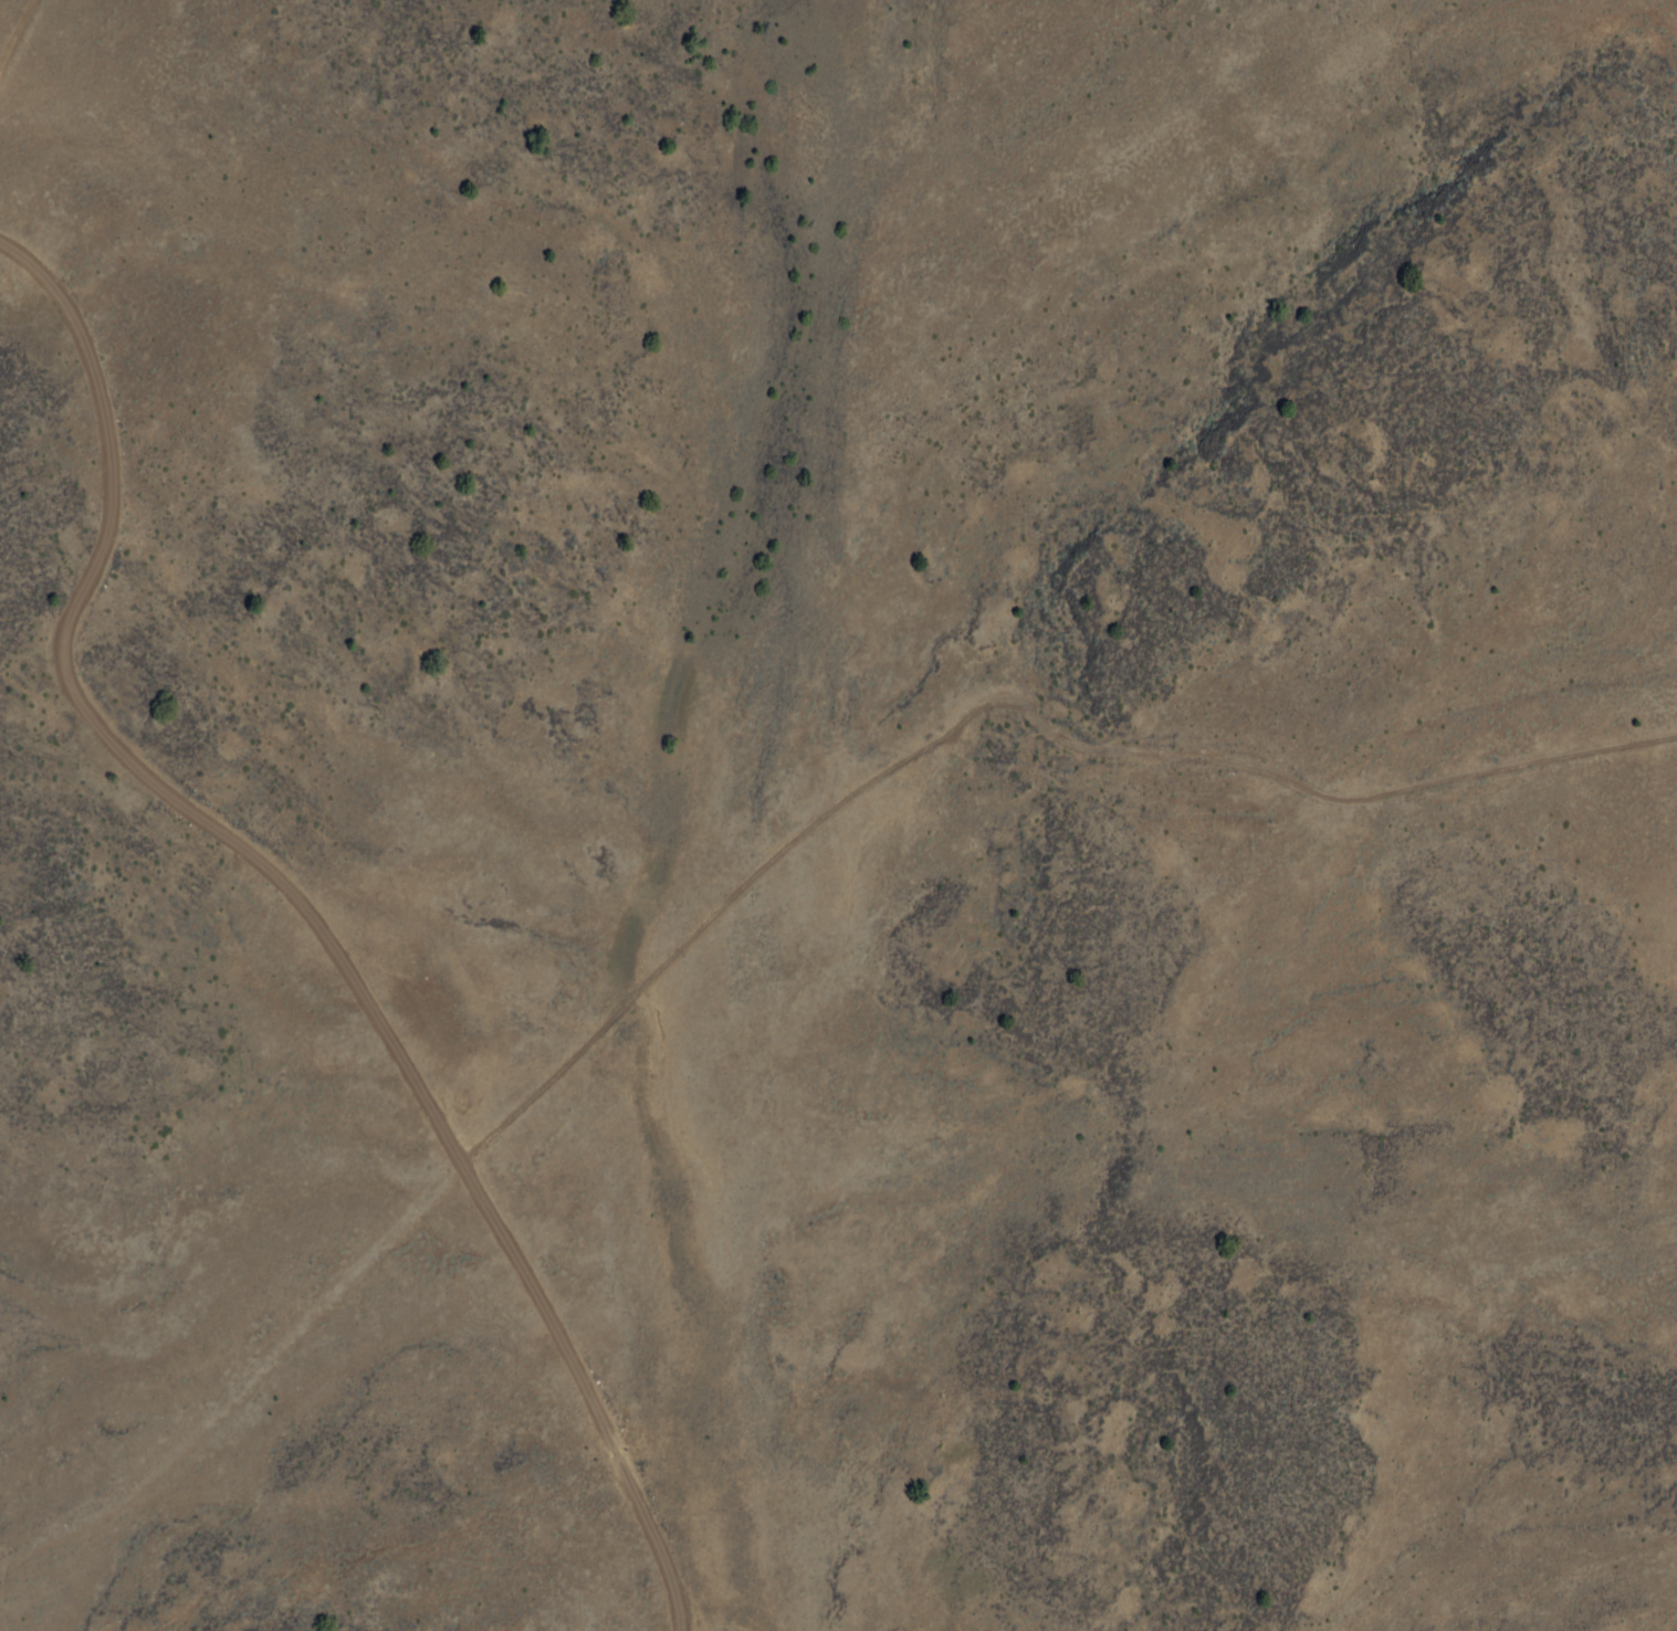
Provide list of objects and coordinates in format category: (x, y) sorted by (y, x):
road: (17, 39)
road: (750, 880)

